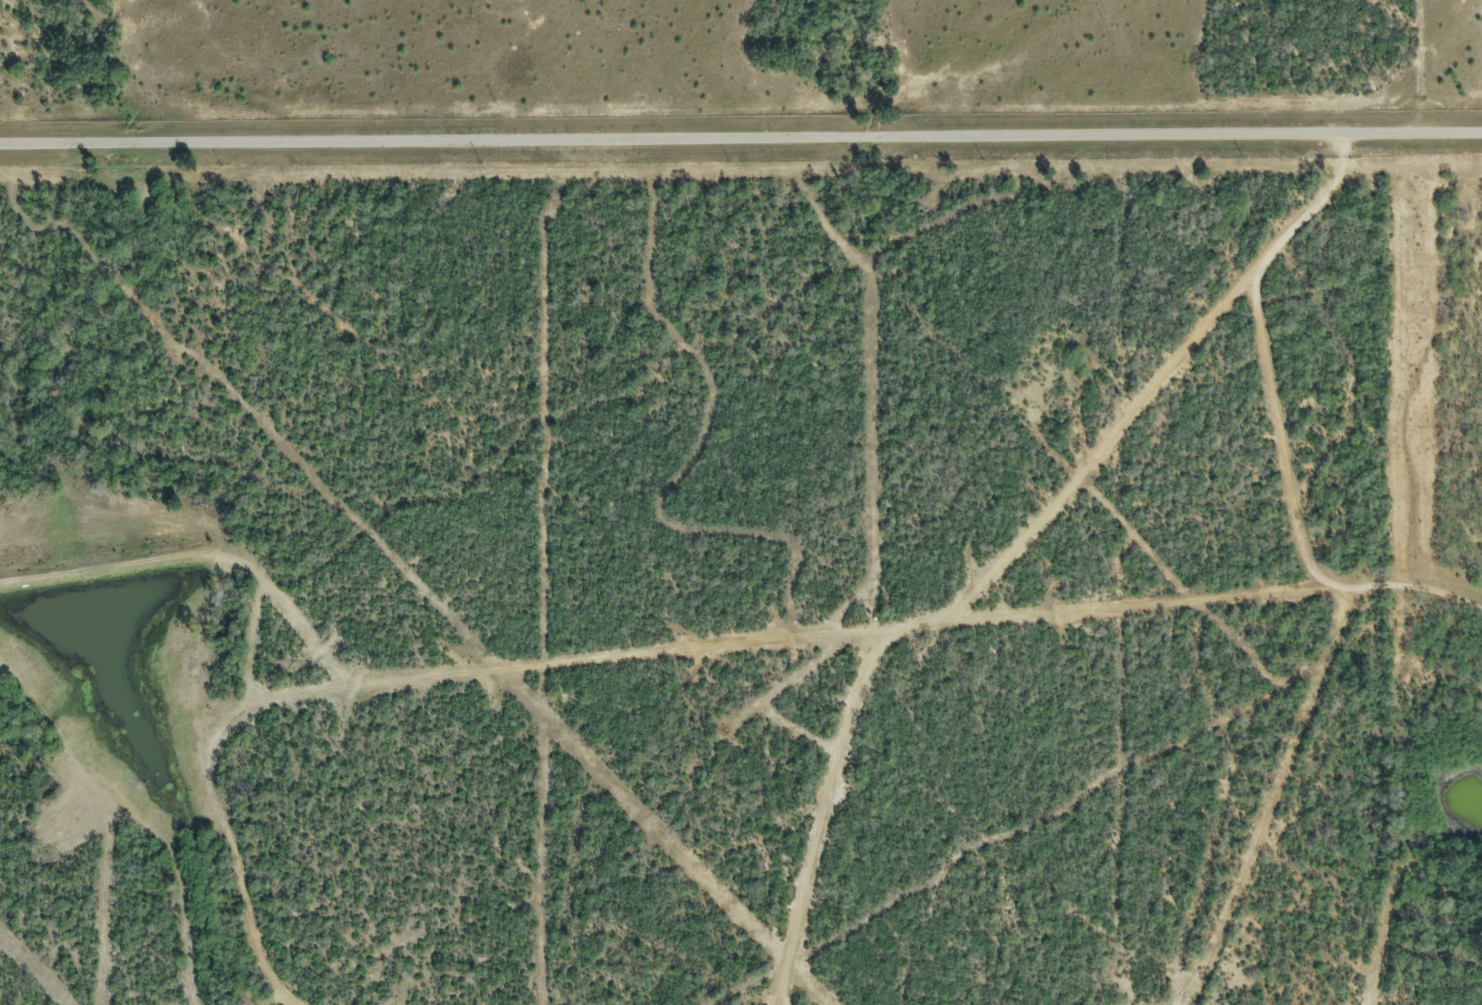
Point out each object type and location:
road: (740, 140)
road: (1279, 430)

